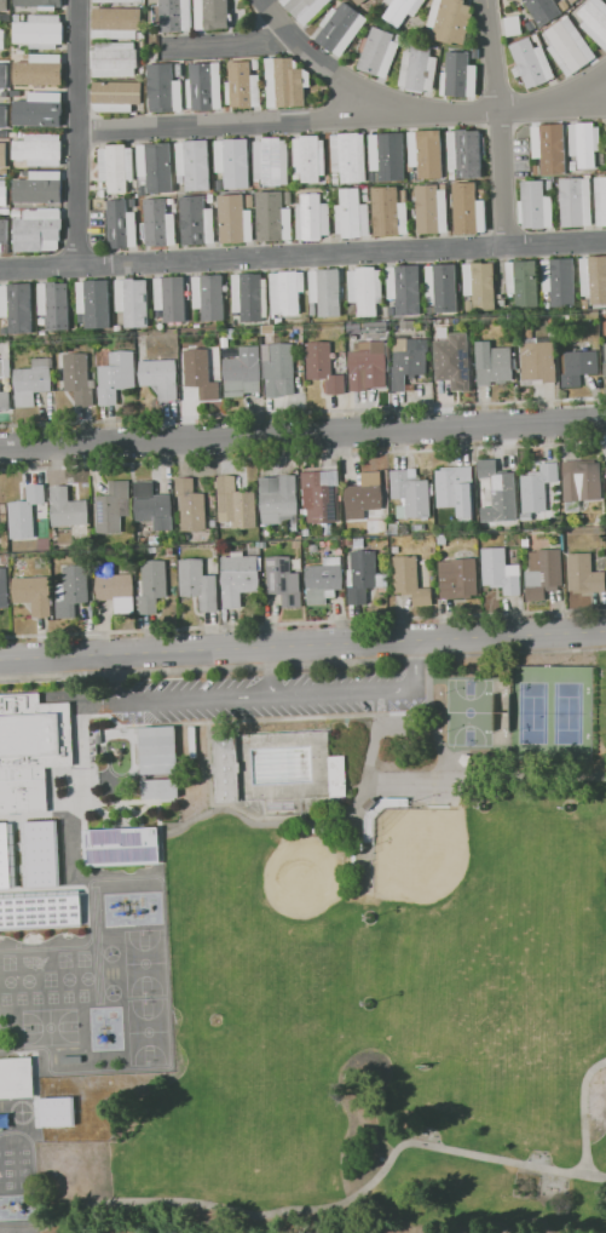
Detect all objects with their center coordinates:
building: (569, 0)
building: (572, 0)
building: (119, 1)
building: (358, 1)
building: (37, 2)
building: (564, 2)
building: (4, 5)
building: (302, 8)
building: (402, 10)
building: (542, 10)
building: (0, 16)
building: (174, 16)
building: (213, 16)
building: (16, 18)
building: (450, 21)
building: (594, 21)
building: (116, 23)
building: (512, 25)
building: (530, 25)
building: (339, 28)
building: (39, 30)
building: (140, 35)
building: (535, 36)
building: (2, 40)
road: (229, 44)
building: (567, 46)
building: (435, 47)
building: (376, 51)
building: (474, 53)
building: (25, 56)
building: (114, 59)
road: (324, 62)
building: (531, 63)
building: (255, 64)
building: (39, 69)
building: (419, 69)
building: (178, 70)
building: (4, 75)
building: (458, 75)
building: (284, 82)
building: (241, 85)
building: (203, 86)
building: (163, 88)
road: (585, 90)
building: (4, 93)
building: (15, 93)
building: (116, 94)
road: (585, 104)
building: (39, 109)
road: (479, 109)
building: (4, 116)
road: (497, 121)
road: (235, 122)
road: (76, 132)
building: (2, 133)
building: (16, 134)
building: (584, 143)
building: (37, 148)
building: (548, 148)
building: (425, 150)
building: (466, 151)
building: (385, 154)
building: (348, 156)
building: (4, 157)
building: (308, 157)
building: (271, 161)
building: (232, 162)
building: (194, 164)
building: (155, 166)
building: (572, 166)
building: (115, 167)
building: (536, 170)
building: (2, 171)
building: (24, 172)
building: (414, 177)
building: (180, 179)
building: (295, 179)
building: (335, 180)
building: (100, 184)
building: (219, 184)
building: (443, 185)
building: (548, 185)
building: (39, 187)
building: (364, 189)
building: (143, 191)
building: (4, 193)
building: (100, 193)
building: (480, 193)
building: (137, 195)
building: (404, 195)
building: (209, 197)
building: (288, 197)
building: (365, 197)
building: (249, 200)
building: (327, 200)
building: (600, 200)
building: (169, 201)
building: (575, 202)
building: (131, 203)
building: (533, 206)
building: (432, 208)
building: (468, 210)
building: (5, 211)
building: (388, 212)
building: (16, 213)
building: (352, 214)
building: (273, 217)
building: (312, 218)
building: (233, 219)
building: (196, 222)
building: (157, 223)
building: (120, 225)
building: (37, 231)
building: (2, 234)
road: (302, 254)
building: (594, 279)
building: (558, 281)
building: (523, 283)
building: (480, 285)
building: (441, 287)
building: (405, 288)
building: (365, 289)
building: (285, 291)
building: (325, 291)
building: (209, 296)
building: (249, 297)
building: (169, 298)
building: (93, 302)
building: (132, 302)
building: (54, 305)
building: (468, 305)
building: (547, 305)
building: (17, 306)
building: (585, 306)
building: (312, 309)
building: (353, 309)
building: (389, 311)
building: (236, 315)
building: (272, 316)
building: (81, 317)
building: (278, 321)
building: (40, 322)
building: (406, 323)
building: (371, 326)
building: (352, 327)
building: (117, 328)
building: (267, 329)
building: (4, 331)
building: (41, 333)
building: (230, 333)
building: (481, 333)
building: (527, 334)
building: (224, 342)
building: (183, 344)
building: (577, 344)
building: (460, 346)
building: (444, 350)
building: (409, 361)
building: (537, 361)
building: (605, 362)
building: (492, 363)
building: (5, 366)
building: (367, 366)
building: (323, 367)
building: (578, 367)
building: (278, 371)
building: (243, 372)
building: (200, 373)
building: (451, 374)
building: (79, 377)
building: (115, 377)
building: (158, 377)
building: (33, 382)
building: (4, 400)
building: (167, 407)
road: (302, 412)
road: (302, 435)
building: (605, 480)
building: (581, 483)
building: (454, 488)
building: (538, 488)
building: (410, 492)
building: (495, 492)
building: (364, 493)
building: (321, 494)
building: (278, 499)
building: (235, 503)
building: (151, 505)
building: (190, 505)
building: (67, 507)
building: (111, 507)
building: (24, 511)
building: (399, 511)
building: (354, 516)
building: (525, 517)
building: (346, 524)
building: (383, 524)
building: (514, 526)
building: (292, 527)
building: (327, 527)
building: (417, 527)
building: (305, 532)
building: (386, 533)
building: (441, 539)
building: (143, 540)
building: (154, 540)
building: (561, 540)
building: (348, 541)
building: (524, 543)
building: (44, 544)
building: (256, 545)
building: (262, 545)
building: (0, 546)
building: (168, 550)
building: (396, 550)
building: (237, 552)
building: (501, 570)
building: (543, 573)
building: (583, 574)
building: (363, 577)
building: (457, 578)
building: (237, 579)
building: (283, 580)
building: (323, 580)
building: (410, 580)
building: (197, 584)
building: (152, 586)
building: (115, 587)
building: (4, 589)
building: (71, 590)
building: (34, 595)
road: (302, 644)
road: (269, 671)
road: (262, 695)
park: (469, 712)
park: (549, 712)
road: (437, 727)
building: (192, 741)
building: (93, 744)
building: (31, 749)
building: (157, 750)
building: (225, 768)
building: (337, 776)
road: (409, 781)
building: (161, 787)
road: (362, 791)
building: (370, 803)
building: (121, 845)
building: (39, 854)
park: (333, 854)
building: (6, 855)
building: (39, 908)
park: (110, 953)
park: (144, 962)
park: (392, 970)
park: (86, 977)
park: (67, 979)
park: (27, 980)
park: (7, 981)
track: (94, 986)
park: (111, 992)
park: (48, 1026)
park: (148, 1031)
building: (16, 1077)
building: (52, 1111)
road: (582, 1111)
park: (236, 1136)
track: (16, 1178)
road: (314, 1206)

